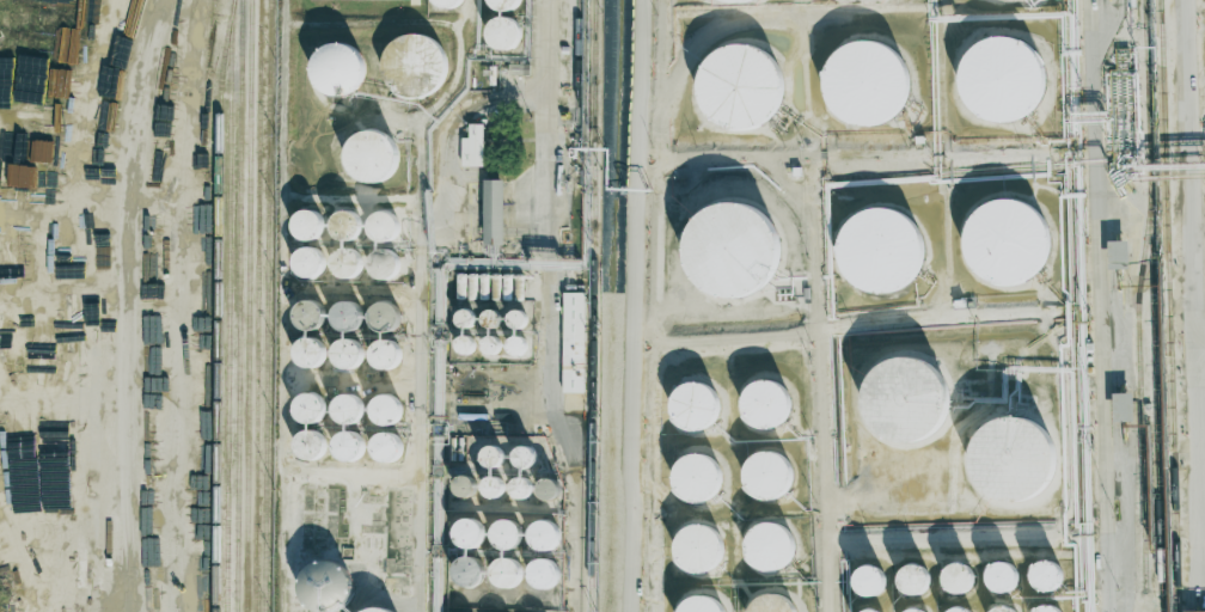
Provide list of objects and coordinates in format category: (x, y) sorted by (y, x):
building: (703, 0)
building: (736, 0)
building: (861, 0)
building: (992, 1)
building: (442, 2)
building: (503, 5)
building: (501, 37)
railway: (577, 63)
building: (411, 68)
building: (334, 76)
building: (1005, 80)
building: (864, 85)
building: (735, 92)
building: (473, 146)
building: (367, 158)
building: (494, 212)
building: (344, 227)
building: (306, 228)
building: (383, 228)
building: (1010, 247)
building: (732, 249)
building: (1118, 255)
building: (876, 258)
building: (307, 264)
building: (381, 265)
building: (342, 267)
road: (818, 295)
road: (128, 304)
railway: (218, 305)
railway: (227, 305)
railway: (247, 305)
road: (631, 305)
road: (1100, 305)
road: (1194, 305)
railway: (238, 306)
railway: (257, 306)
railway: (267, 306)
railway: (593, 306)
railway: (1152, 306)
railway: (1169, 306)
road: (549, 308)
building: (305, 317)
building: (344, 319)
building: (516, 319)
road: (938, 319)
building: (381, 320)
road: (726, 338)
building: (574, 342)
road: (1200, 349)
building: (306, 355)
building: (384, 356)
building: (343, 357)
railway: (1138, 381)
building: (905, 398)
building: (765, 406)
building: (1123, 406)
building: (693, 409)
building: (306, 411)
building: (343, 411)
building: (386, 414)
road: (423, 418)
building: (308, 448)
building: (344, 448)
building: (383, 451)
building: (491, 457)
building: (525, 457)
building: (1011, 458)
building: (766, 477)
building: (693, 479)
building: (464, 486)
building: (493, 486)
building: (521, 488)
building: (549, 489)
building: (466, 535)
building: (506, 538)
building: (542, 540)
road: (287, 541)
building: (769, 547)
building: (698, 550)
building: (466, 576)
building: (503, 576)
building: (542, 577)
building: (956, 580)
building: (1045, 580)
building: (915, 582)
building: (1003, 582)
building: (867, 586)
building: (322, 590)
building: (697, 606)
building: (770, 606)
building: (371, 608)
building: (1047, 610)
building: (871, 611)
building: (990, 611)

